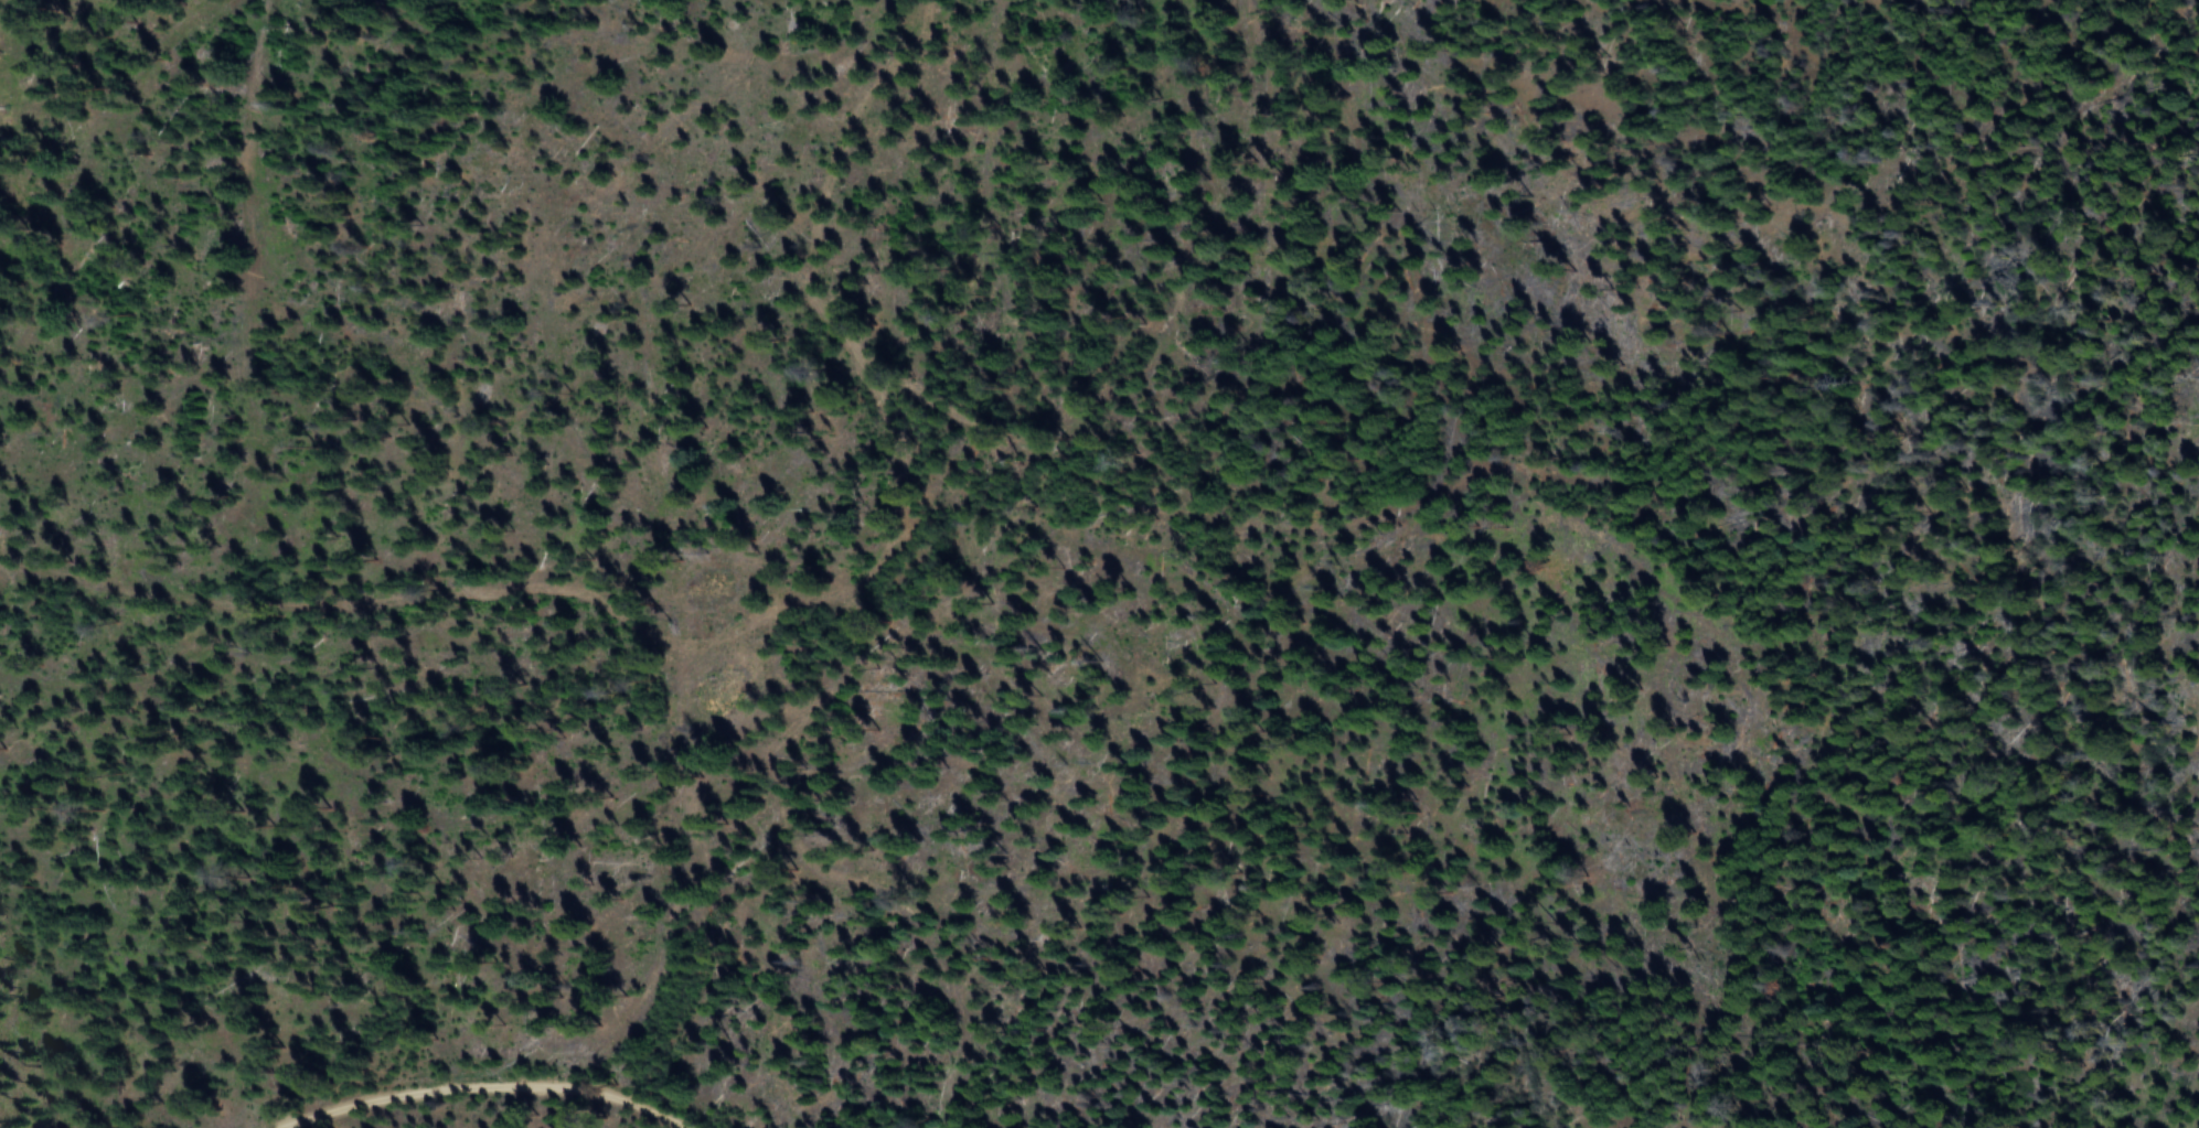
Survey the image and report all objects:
road: (479, 1084)

